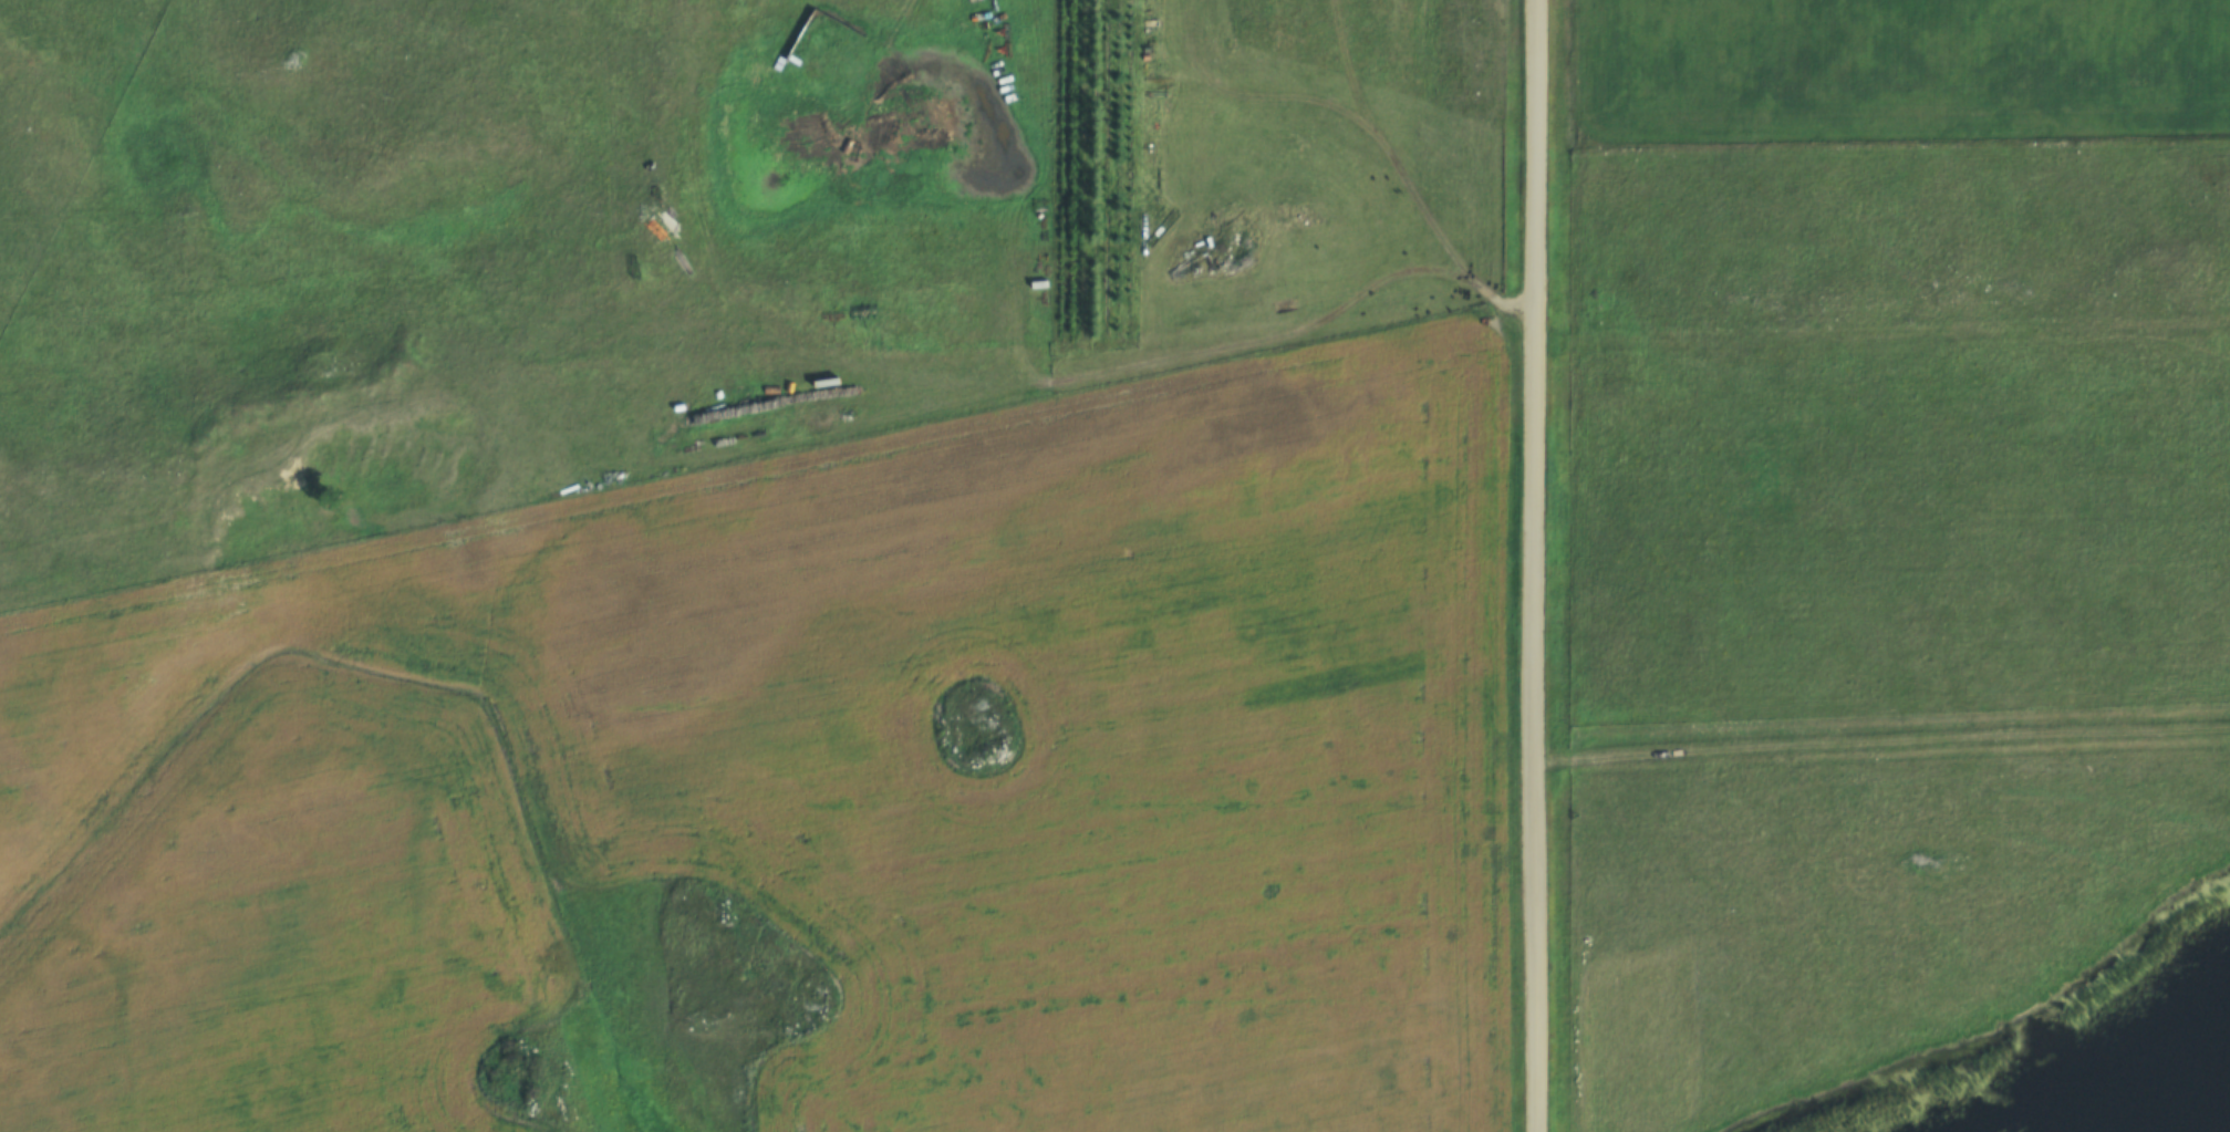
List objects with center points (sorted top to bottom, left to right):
road: (1538, 565)

